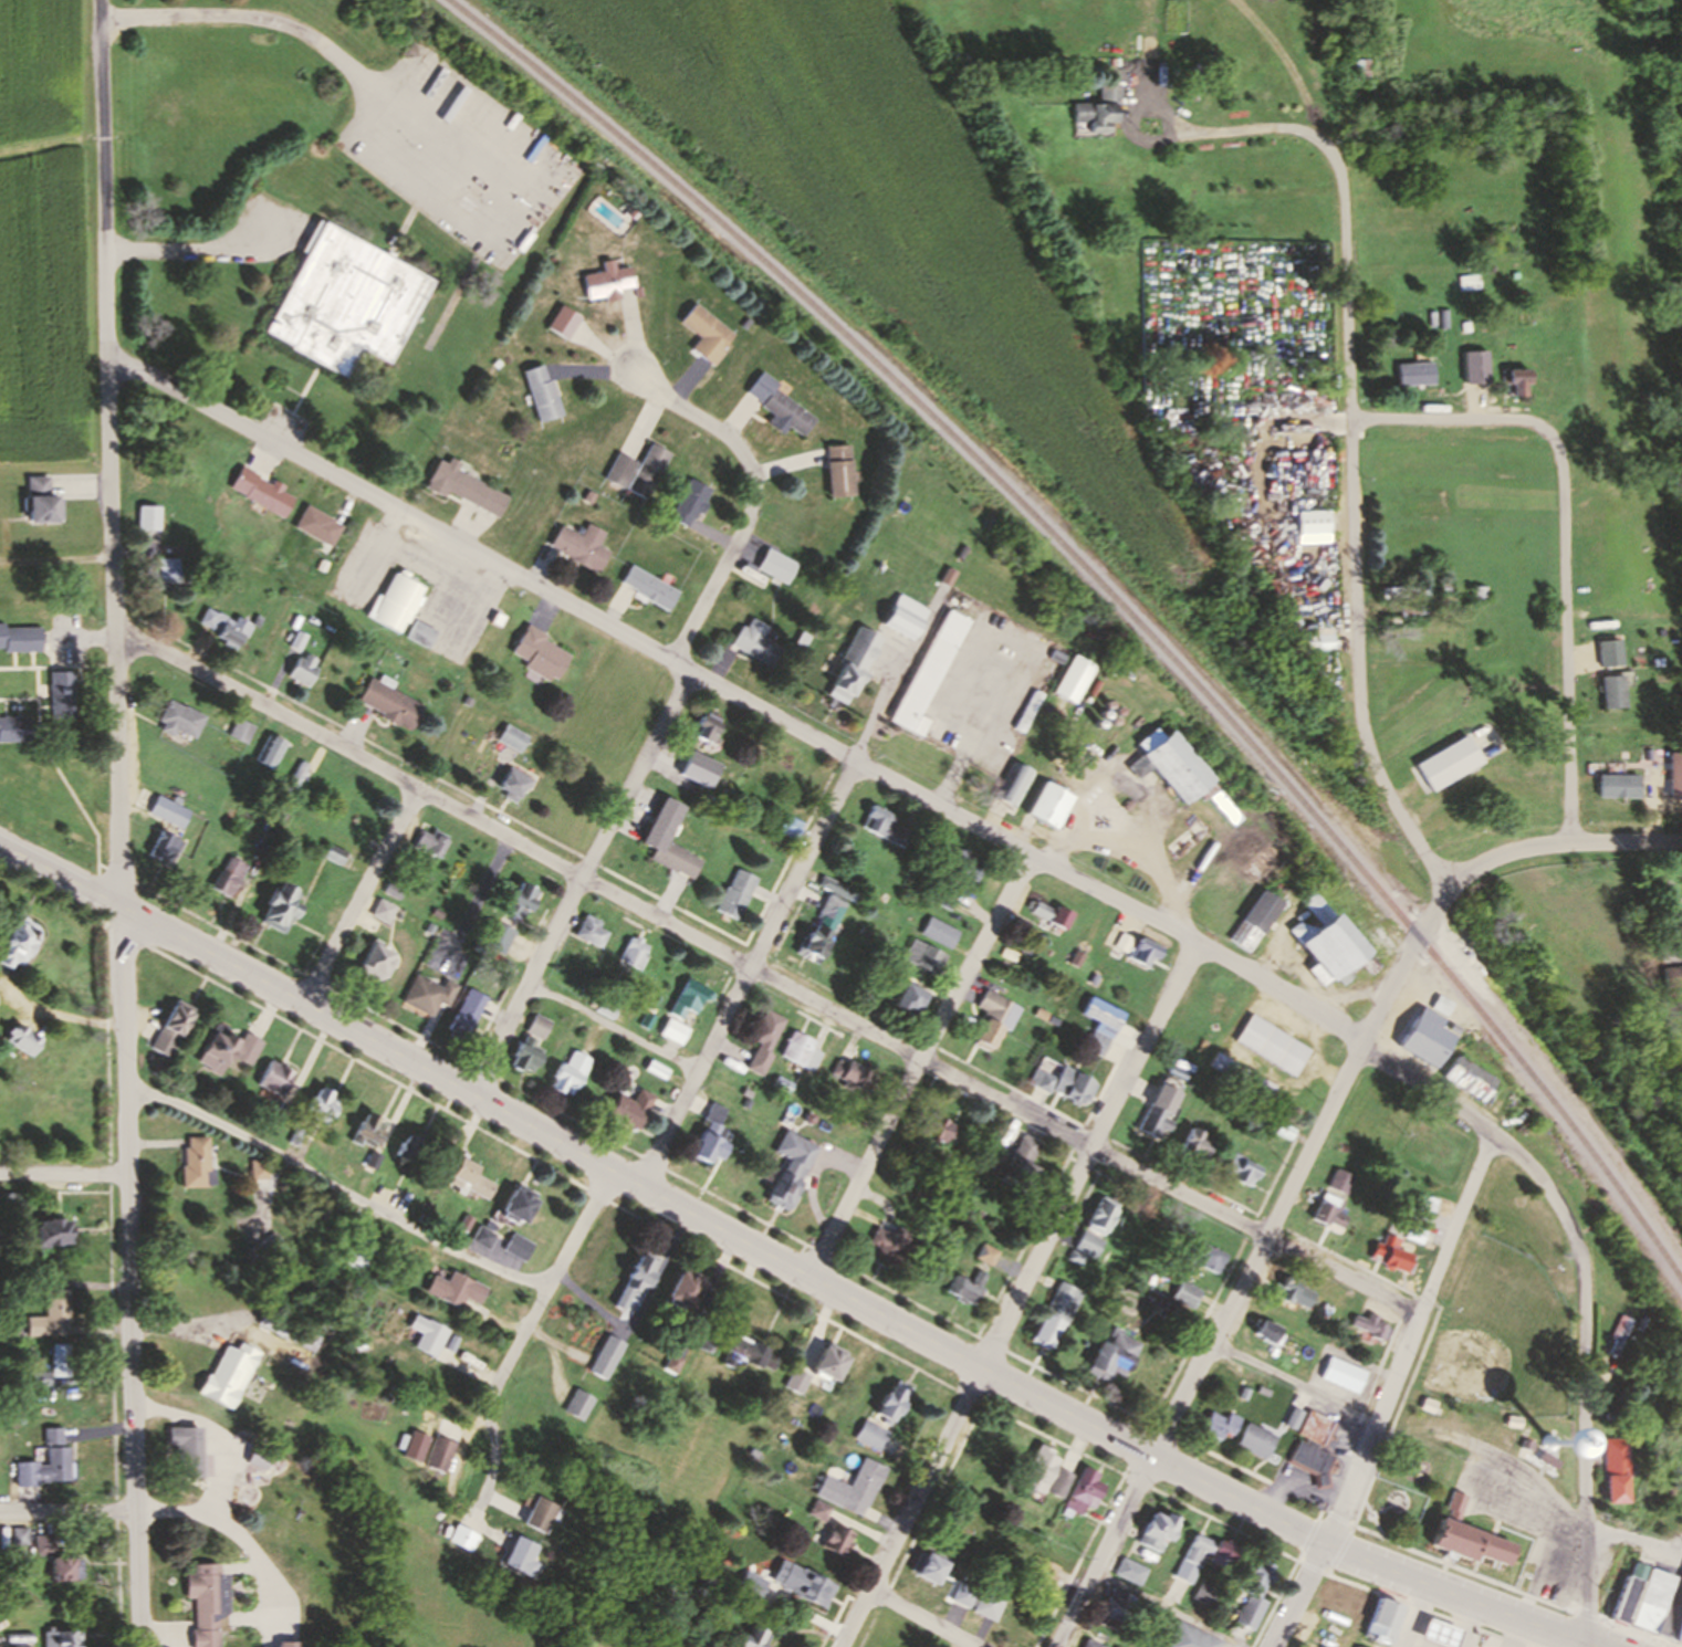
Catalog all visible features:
road: (339, 61)
building: (1361, 70)
building: (1099, 111)
road: (1268, 133)
building: (634, 213)
road: (213, 255)
building: (605, 282)
building: (1469, 282)
building: (637, 292)
building: (344, 301)
building: (562, 322)
building: (744, 323)
building: (704, 333)
building: (1475, 366)
building: (1519, 384)
building: (540, 392)
building: (776, 403)
road: (1465, 420)
parking lot: (284, 427)
road: (108, 453)
building: (617, 470)
building: (646, 470)
building: (837, 471)
building: (463, 487)
building: (261, 492)
road: (750, 495)
building: (688, 502)
building: (43, 503)
building: (148, 517)
building: (1313, 522)
building: (317, 526)
road: (1351, 543)
building: (581, 546)
road: (55, 558)
building: (322, 565)
building: (775, 566)
building: (165, 573)
building: (946, 577)
building: (649, 588)
building: (1402, 591)
building: (1477, 592)
railway: (1115, 598)
building: (396, 601)
building: (902, 617)
building: (223, 626)
building: (420, 633)
building: (20, 638)
road: (82, 638)
building: (1318, 640)
building: (754, 643)
road: (1560, 649)
building: (537, 653)
building: (1055, 658)
building: (303, 669)
building: (927, 675)
building: (845, 681)
building: (1072, 681)
building: (1610, 691)
building: (61, 694)
building: (388, 703)
building: (1027, 712)
building: (178, 720)
building: (706, 726)
building: (13, 727)
building: (240, 730)
road: (803, 733)
building: (269, 751)
building: (1448, 763)
building: (699, 769)
building: (1181, 770)
building: (295, 777)
road: (948, 781)
building: (513, 784)
building: (1012, 784)
building: (1615, 786)
road: (1137, 787)
building: (1049, 806)
building: (163, 809)
building: (661, 825)
building: (884, 826)
building: (790, 827)
building: (430, 841)
building: (263, 847)
building: (164, 848)
road: (1116, 849)
building: (332, 854)
building: (961, 863)
road: (1474, 867)
building: (227, 877)
road: (578, 880)
building: (944, 893)
road: (359, 894)
building: (735, 894)
building: (521, 901)
building: (280, 908)
building: (382, 911)
building: (1049, 914)
building: (824, 920)
building: (1254, 921)
building: (589, 931)
building: (939, 932)
building: (497, 937)
building: (1329, 942)
building: (15, 943)
building: (634, 953)
building: (1143, 953)
building: (922, 956)
building: (1076, 958)
building: (375, 963)
road: (744, 971)
road: (763, 974)
building: (1670, 976)
building: (1094, 978)
building: (428, 994)
road: (1347, 997)
building: (689, 998)
building: (910, 999)
building: (466, 1014)
building: (992, 1019)
building: (1101, 1025)
road: (612, 1026)
building: (169, 1029)
building: (672, 1031)
road: (1229, 1034)
building: (19, 1039)
building: (763, 1041)
building: (530, 1043)
building: (1271, 1046)
building: (226, 1052)
road: (916, 1062)
building: (655, 1070)
building: (570, 1073)
building: (850, 1074)
building: (1241, 1076)
building: (272, 1079)
building: (1466, 1080)
building: (1063, 1082)
building: (320, 1104)
building: (629, 1109)
building: (1157, 1113)
building: (934, 1130)
building: (366, 1131)
building: (709, 1139)
building: (1194, 1145)
building: (406, 1151)
road: (1087, 1153)
building: (194, 1162)
building: (1020, 1166)
building: (1241, 1169)
building: (254, 1171)
building: (790, 1171)
road: (62, 1175)
building: (459, 1178)
building: (1338, 1181)
road: (1540, 1183)
road: (334, 1188)
building: (15, 1200)
building: (502, 1205)
building: (518, 1206)
building: (1417, 1211)
building: (1327, 1214)
building: (1101, 1216)
building: (1087, 1219)
building: (460, 1225)
building: (51, 1230)
building: (478, 1238)
building: (888, 1242)
building: (1087, 1245)
building: (509, 1250)
road: (1257, 1250)
building: (353, 1253)
building: (985, 1255)
building: (1387, 1255)
building: (1191, 1258)
road: (790, 1265)
building: (640, 1276)
road: (127, 1277)
building: (623, 1278)
building: (969, 1278)
building: (443, 1288)
building: (964, 1288)
building: (685, 1289)
building: (948, 1289)
building: (1184, 1294)
building: (1287, 1295)
building: (51, 1314)
building: (1054, 1316)
building: (1351, 1322)
building: (1368, 1325)
building: (1617, 1333)
building: (1262, 1335)
road: (520, 1337)
road: (1404, 1339)
building: (420, 1340)
building: (708, 1342)
building: (742, 1352)
building: (1096, 1353)
building: (60, 1360)
building: (598, 1360)
building: (827, 1361)
building: (808, 1362)
building: (672, 1363)
building: (224, 1373)
park: (1475, 1373)
building: (1339, 1374)
building: (794, 1380)
building: (784, 1381)
road: (1289, 1383)
building: (890, 1401)
building: (875, 1404)
building: (568, 1406)
building: (1293, 1424)
building: (1202, 1425)
building: (868, 1434)
building: (857, 1436)
building: (1240, 1440)
water tower: (1545, 1440)
road: (1585, 1444)
building: (429, 1448)
building: (185, 1449)
road: (1486, 1449)
building: (1307, 1459)
building: (45, 1467)
building: (1040, 1467)
building: (1617, 1469)
building: (1058, 1482)
building: (836, 1489)
building: (1083, 1492)
road: (909, 1507)
building: (540, 1514)
road: (157, 1518)
building: (1155, 1530)
building: (460, 1536)
building: (1467, 1536)
building: (834, 1539)
road: (1633, 1539)
parking lot: (1671, 1539)
building: (43, 1543)
road: (1099, 1551)
building: (520, 1554)
building: (1191, 1557)
building: (1219, 1557)
building: (926, 1565)
building: (61, 1567)
building: (1129, 1571)
building: (1041, 1574)
road: (1539, 1574)
building: (798, 1582)
building: (1252, 1592)
building: (1630, 1592)
building: (1204, 1593)
building: (960, 1594)
road: (1295, 1595)
building: (673, 1596)
building: (1341, 1598)
building: (201, 1602)
building: (986, 1603)
building: (1658, 1606)
building: (1112, 1608)
road: (1164, 1608)
road: (1413, 1616)
building: (1382, 1619)
road: (915, 1625)
building: (1439, 1633)
building: (1679, 1633)
building: (60, 1637)
building: (749, 1637)
building: (1190, 1637)
building: (1344, 1640)
building: (284, 1643)
building: (1087, 1644)
road: (1588, 1645)
building: (1356, 1646)

